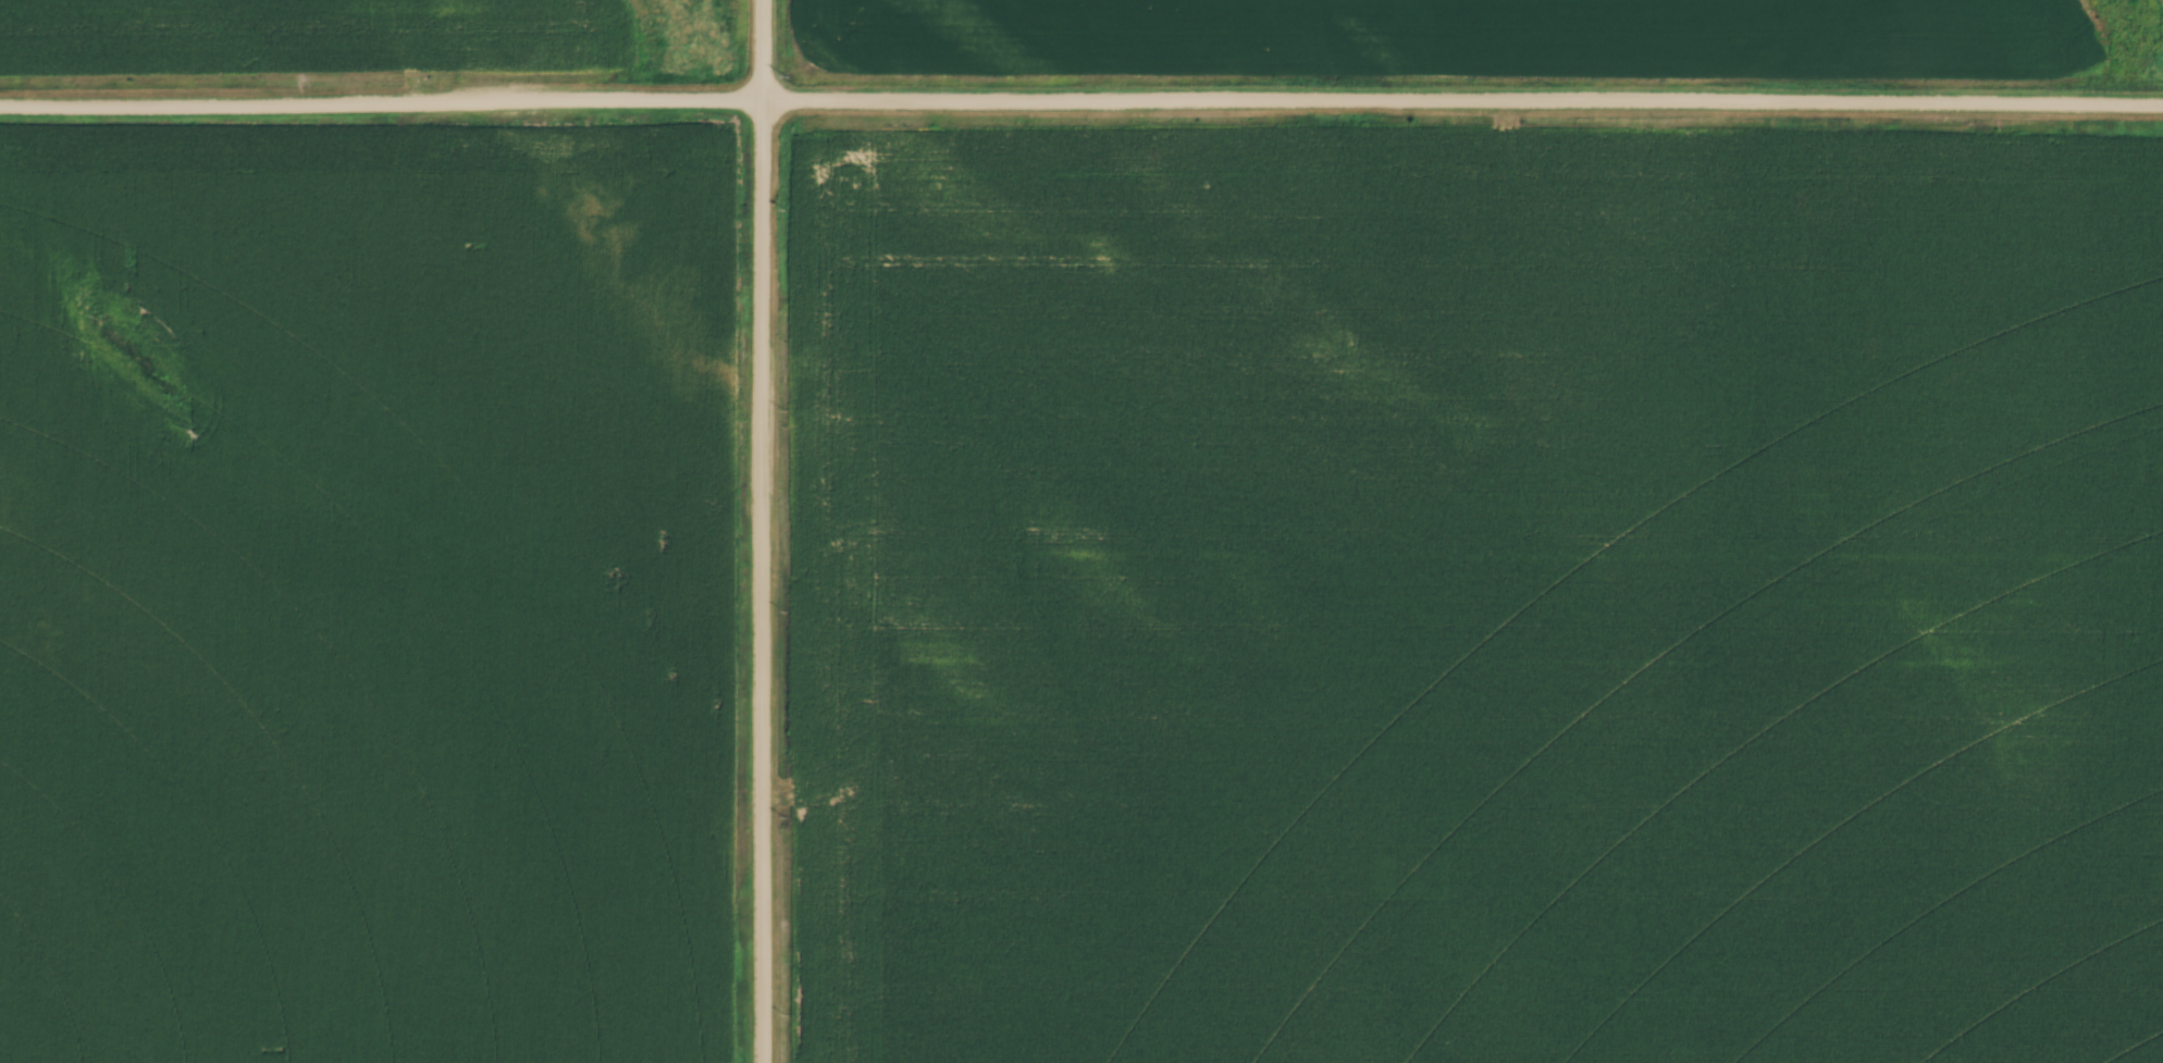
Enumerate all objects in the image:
road: (1463, 107)
road: (382, 108)
road: (763, 531)
crop: (366, 601)

